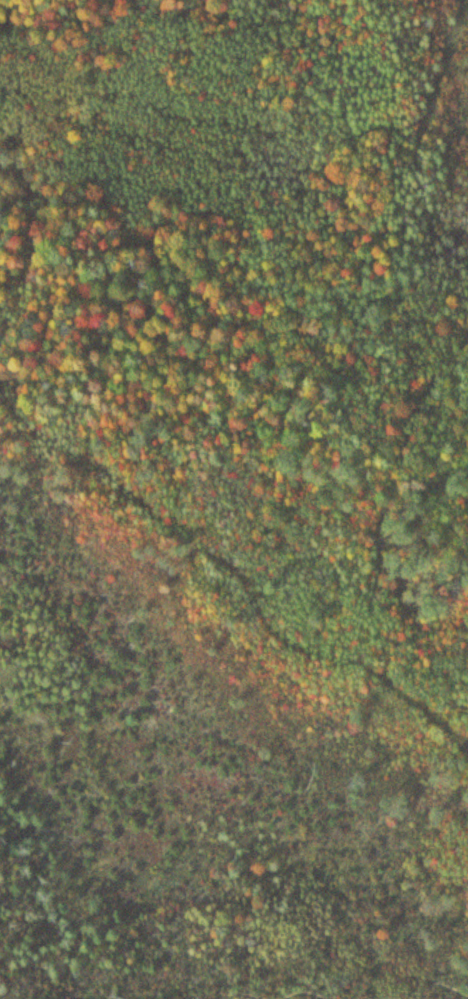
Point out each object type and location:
road: (440, 988)
road: (303, 992)
road: (218, 997)

